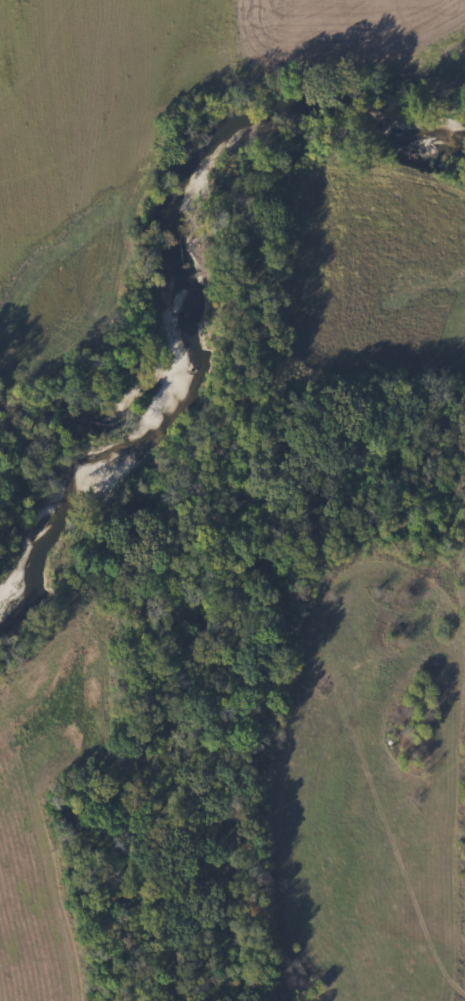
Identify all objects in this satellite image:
river: (180, 275)

